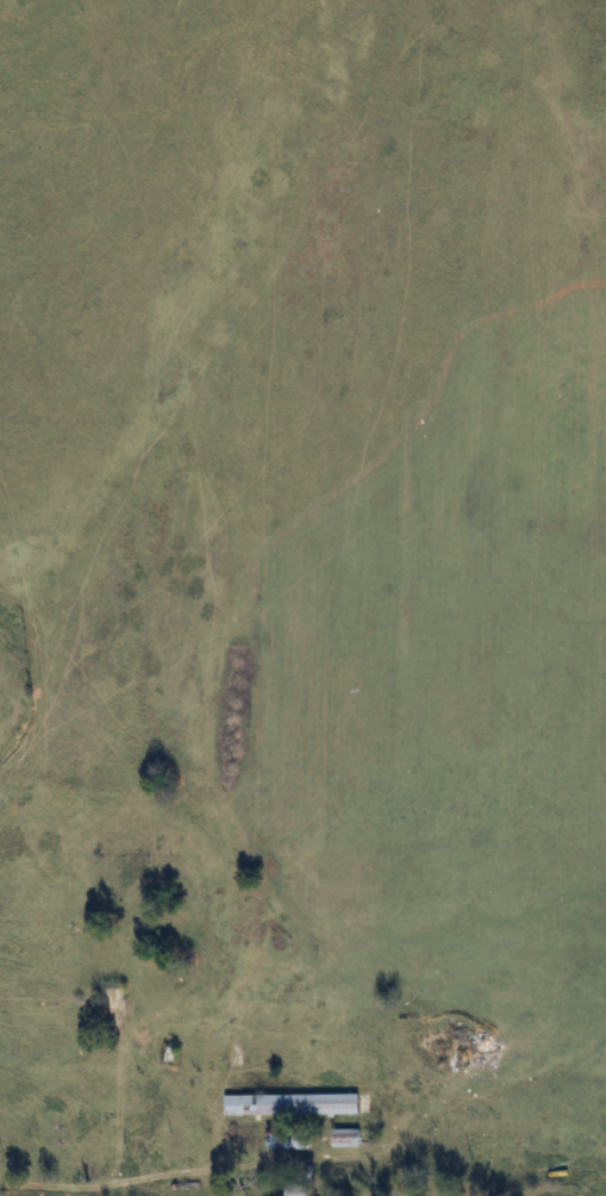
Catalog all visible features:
building: (290, 1105)
building: (343, 1139)
building: (295, 1190)

